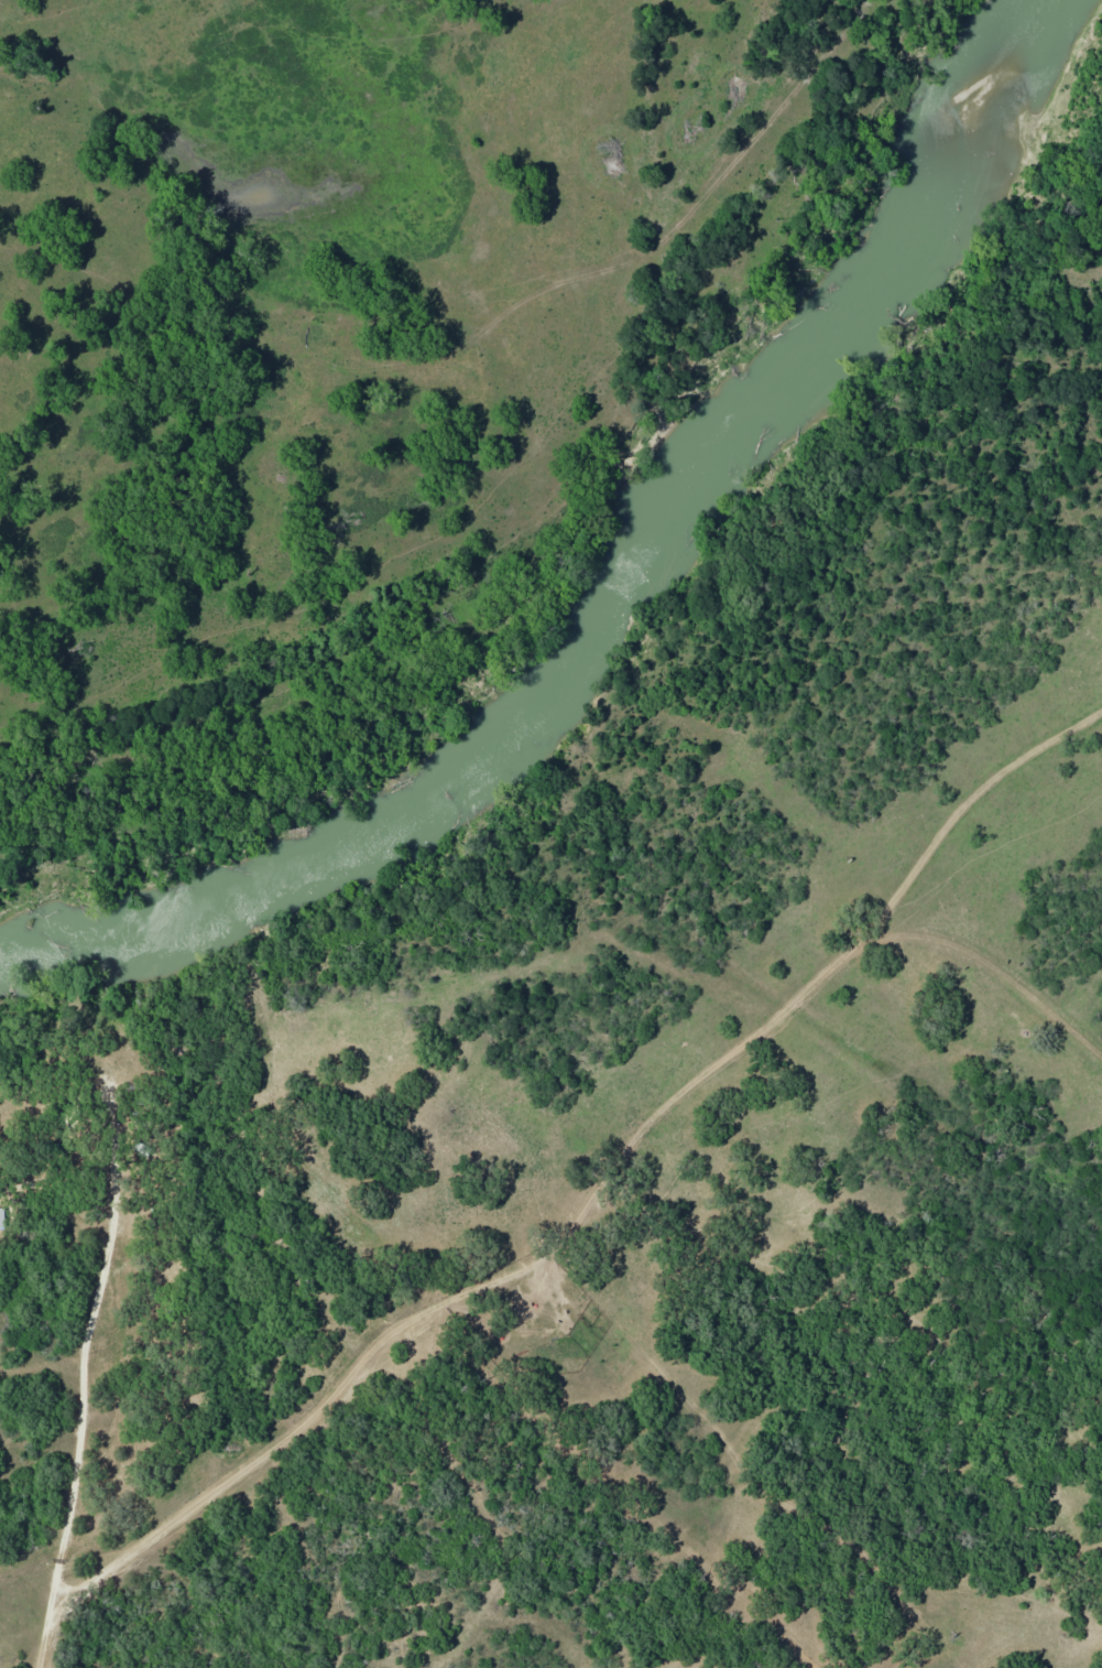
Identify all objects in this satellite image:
road: (512, 358)
road: (19, 456)
river: (603, 586)
road: (598, 1204)
building: (1, 1217)
road: (119, 1340)

